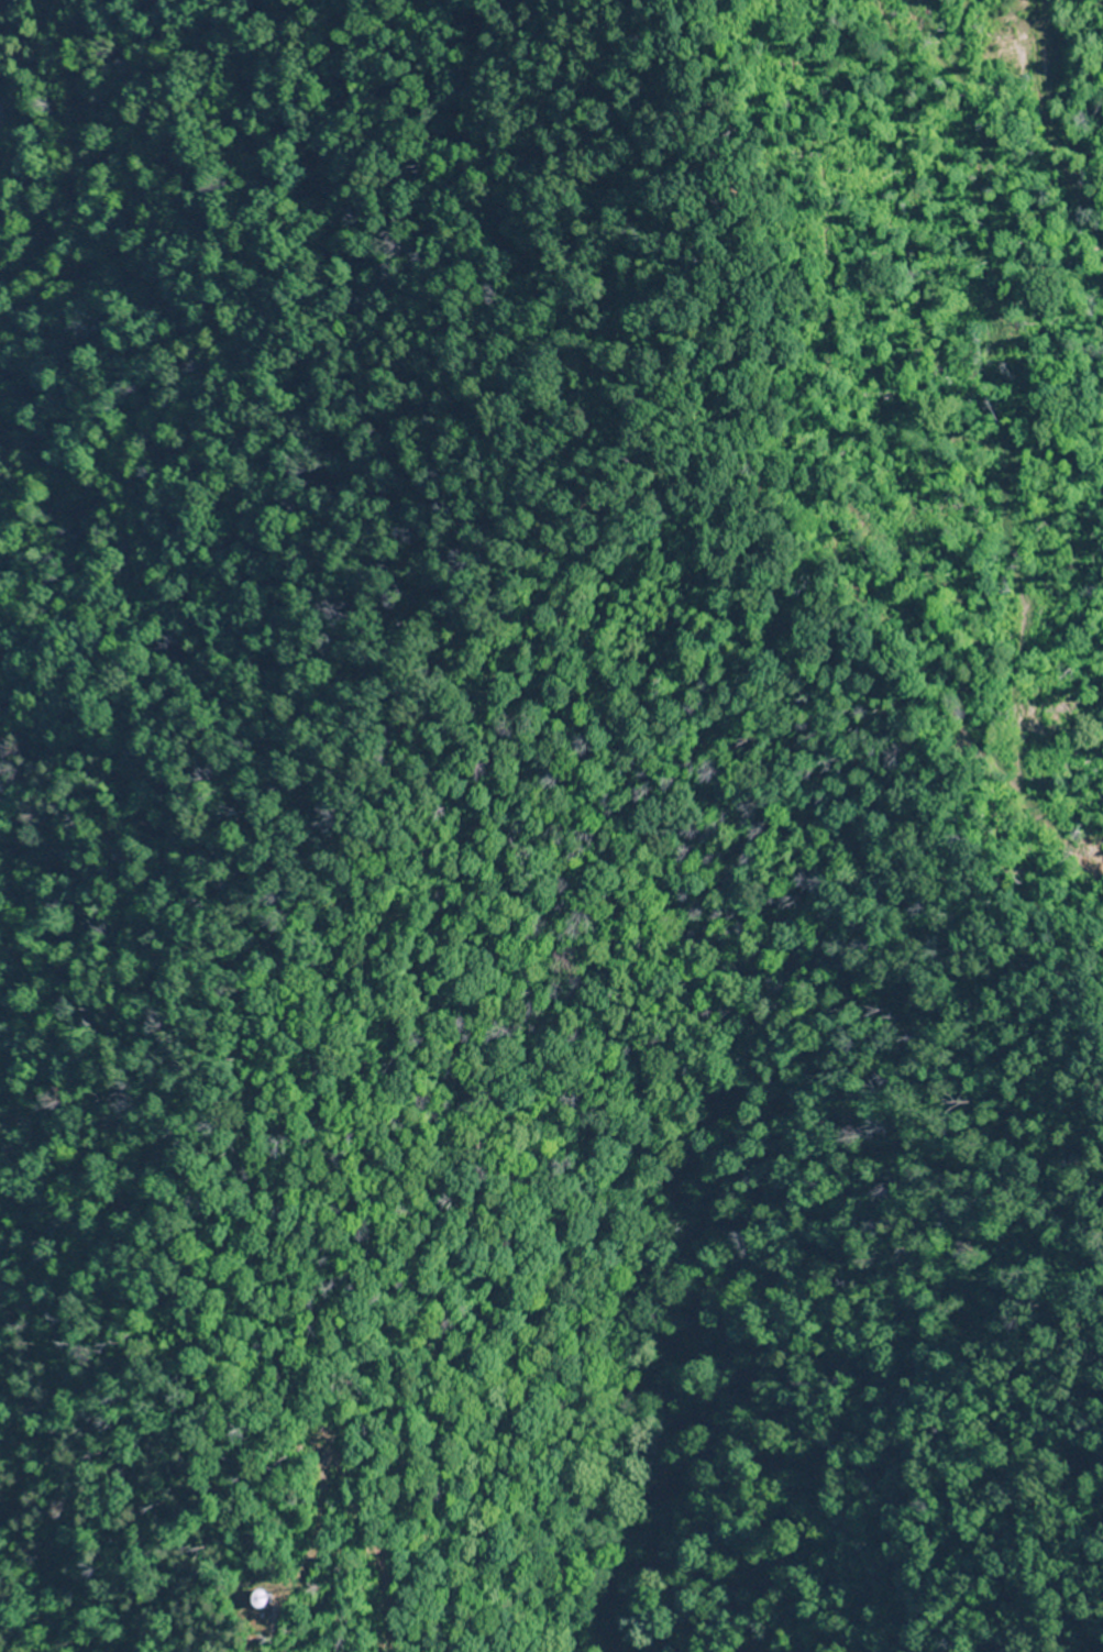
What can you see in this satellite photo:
building: (276, 1600)

